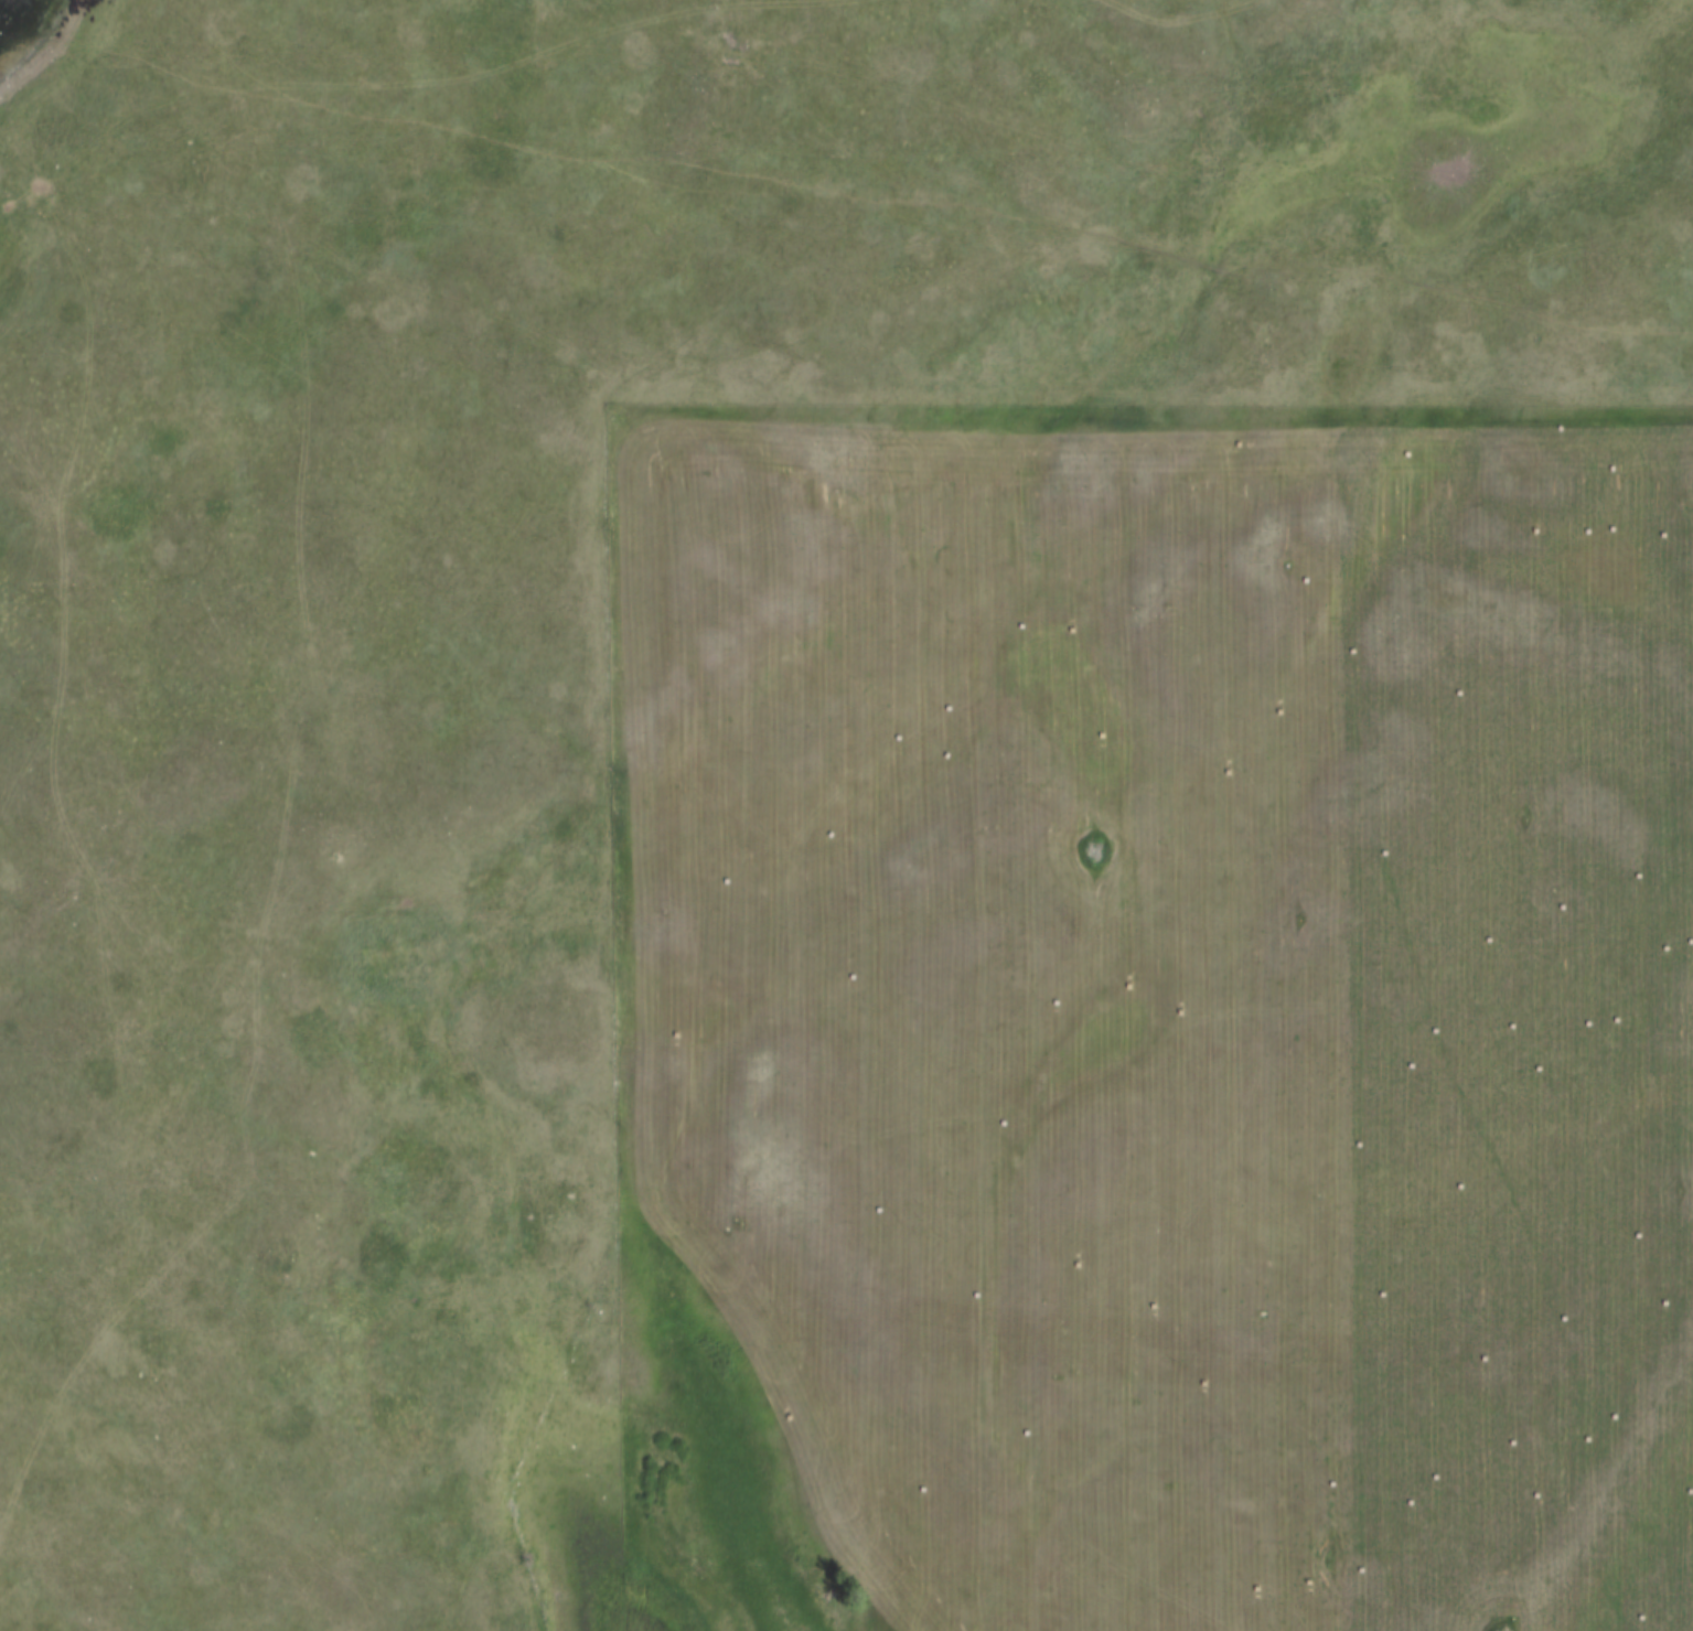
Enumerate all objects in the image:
building: (1085, 1333)

